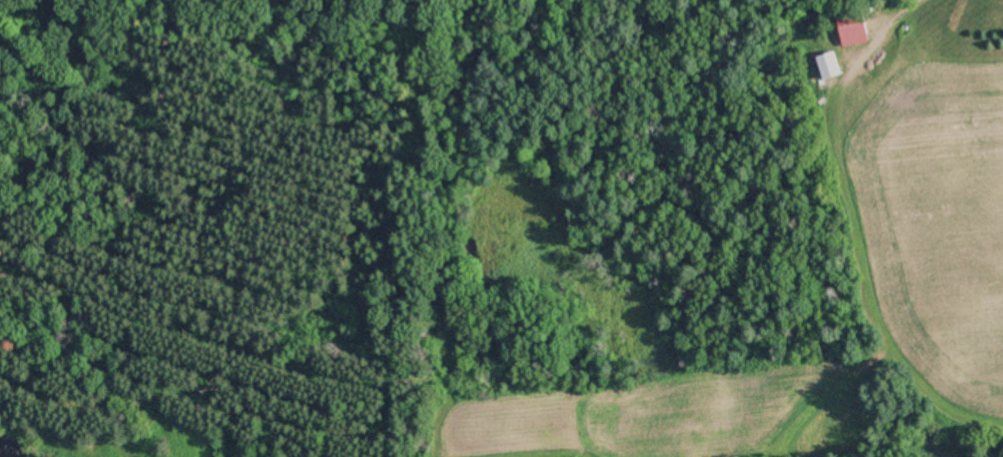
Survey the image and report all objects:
building: (851, 29)

